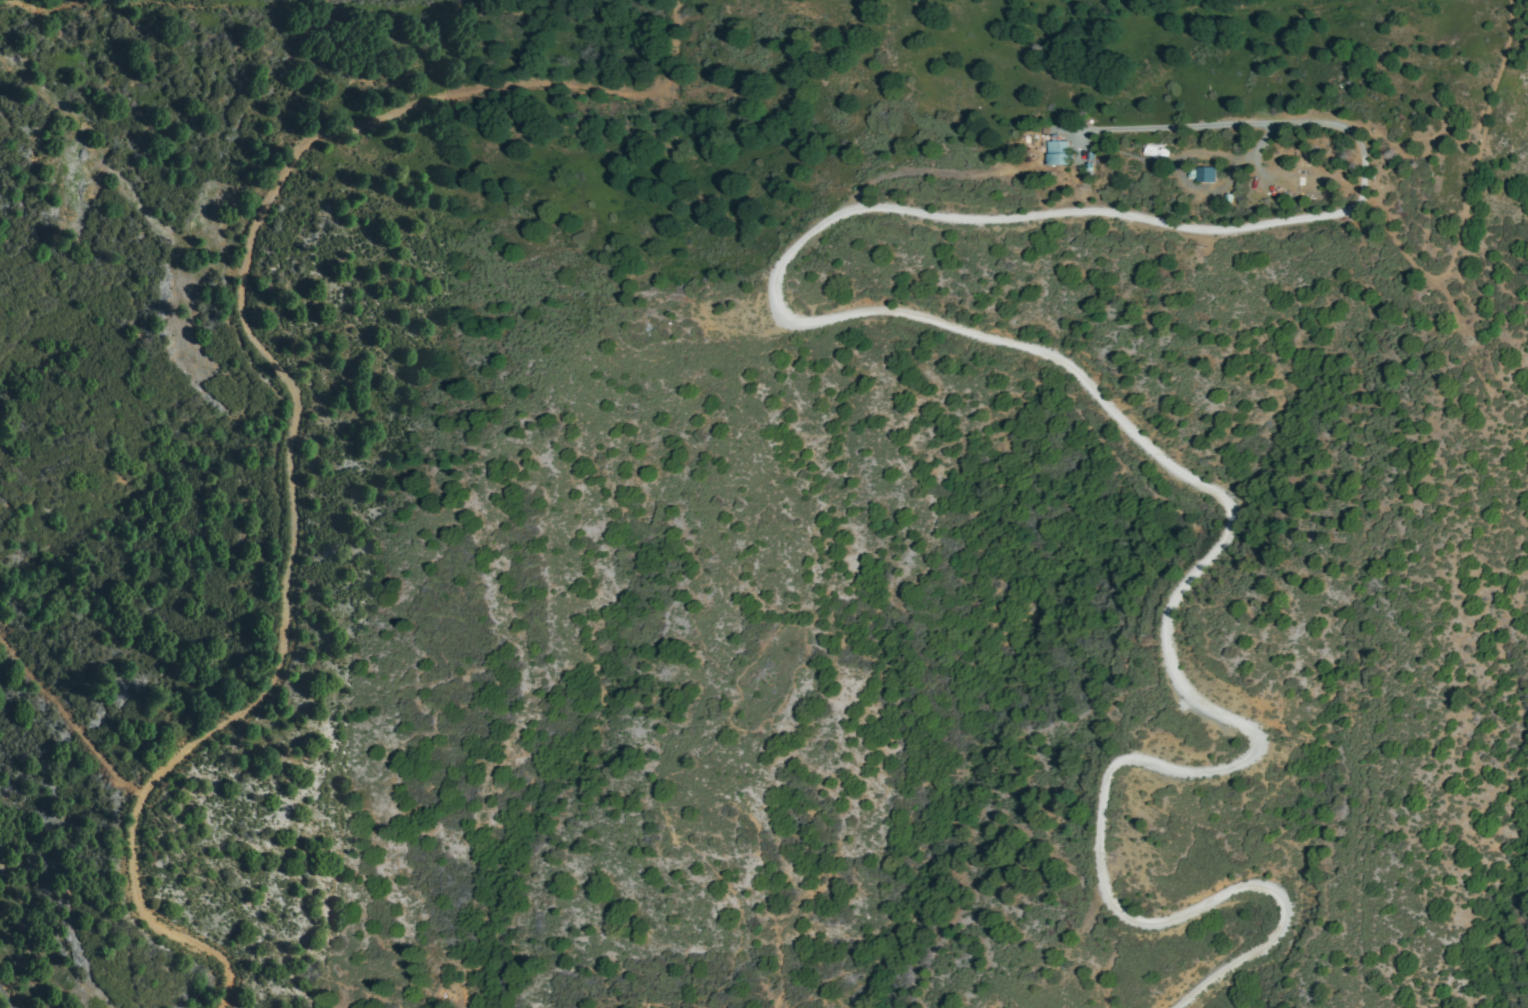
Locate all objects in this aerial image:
building: (1058, 151)
building: (1160, 152)
building: (1093, 162)
building: (1209, 175)
building: (1320, 194)
building: (1235, 199)
road: (1000, 340)
road: (272, 347)
road: (212, 961)
road: (8, 993)

